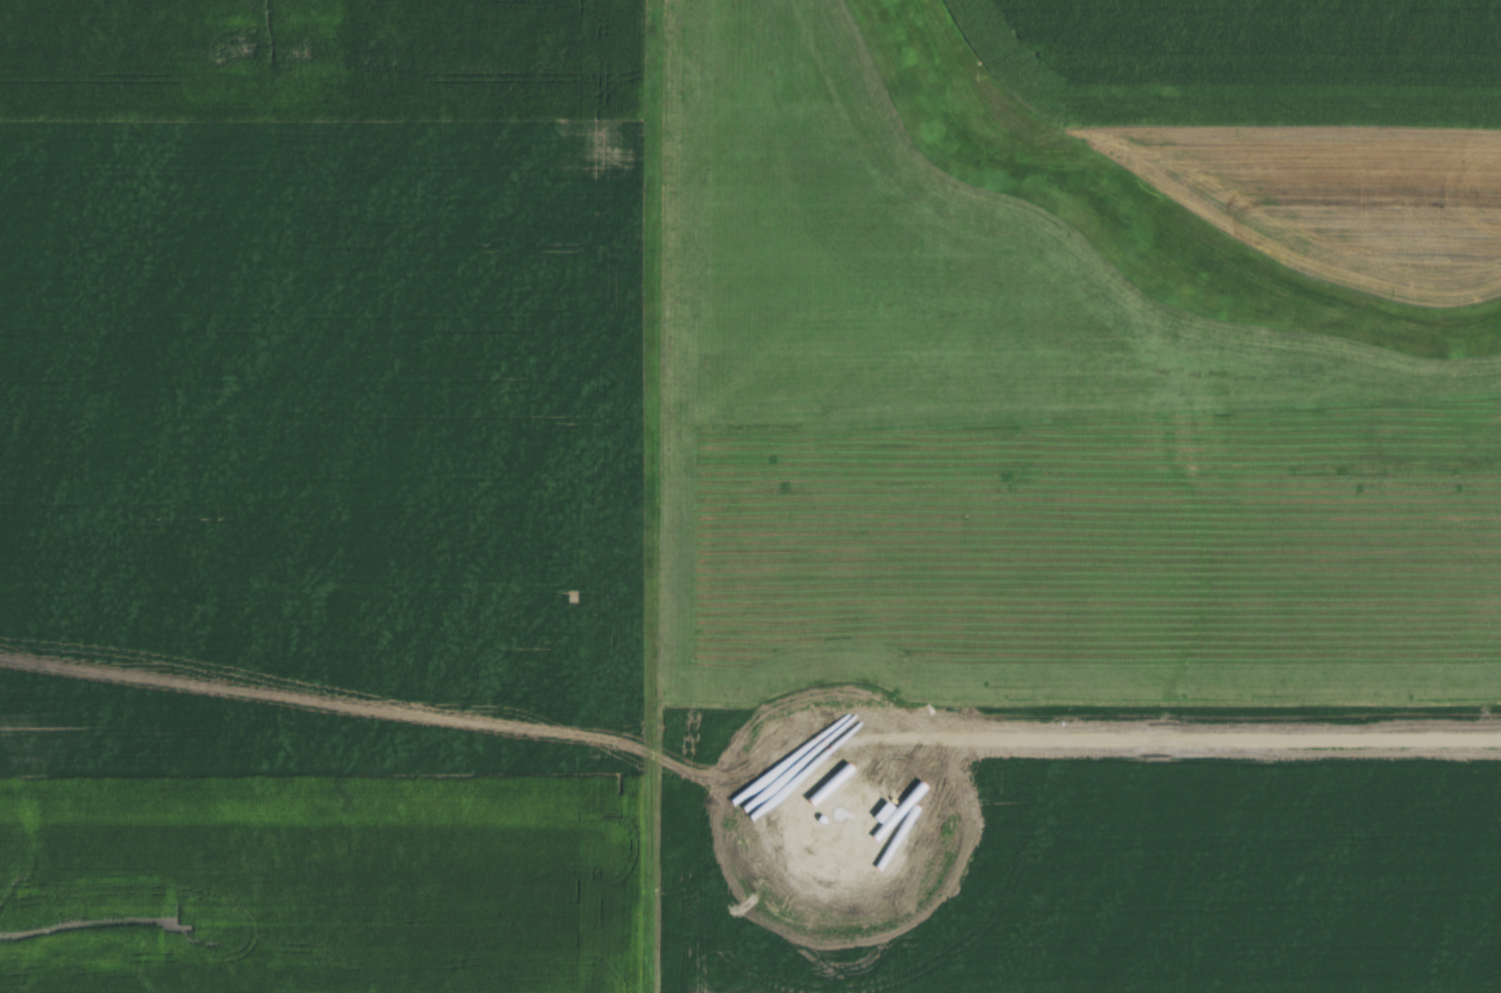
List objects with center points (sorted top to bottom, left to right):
wind turbine: (830, 825)

